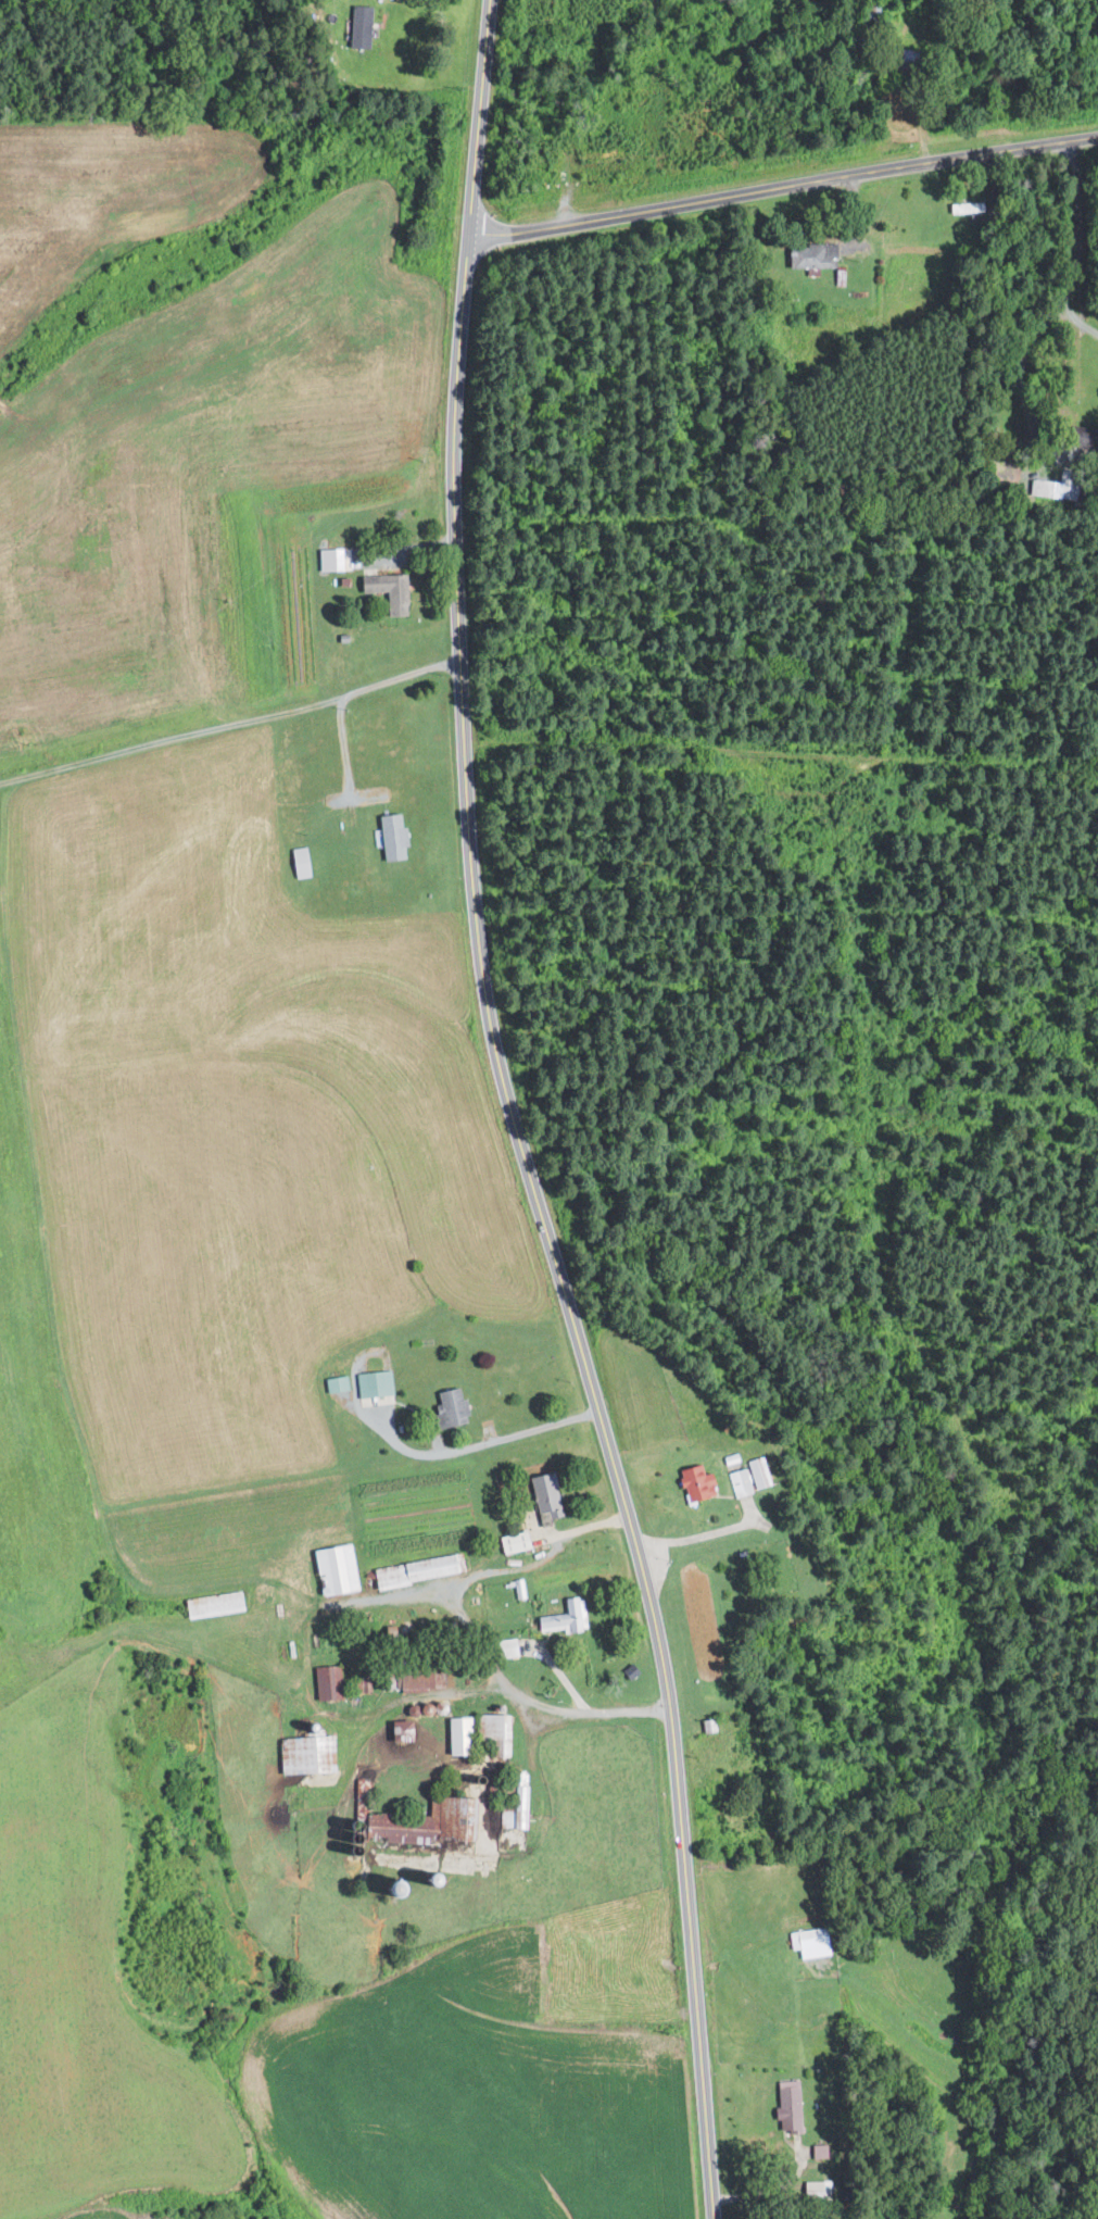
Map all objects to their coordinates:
building: (358, 26)
road: (856, 170)
building: (963, 206)
road: (1078, 223)
road: (542, 228)
building: (810, 255)
road: (1081, 323)
road: (1024, 394)
building: (1040, 487)
road: (404, 549)
building: (386, 590)
road: (463, 717)
road: (230, 725)
road: (343, 745)
building: (390, 837)
building: (300, 862)
building: (335, 1382)
building: (373, 1382)
building: (447, 1407)
road: (527, 1430)
building: (759, 1471)
building: (692, 1482)
building: (740, 1482)
building: (542, 1496)
road: (695, 1537)
building: (513, 1541)
building: (332, 1568)
building: (413, 1570)
road: (510, 1570)
building: (212, 1604)
building: (563, 1617)
road: (478, 1634)
building: (504, 1647)
building: (325, 1681)
building: (414, 1681)
road: (561, 1707)
building: (395, 1729)
building: (491, 1732)
building: (455, 1735)
building: (303, 1754)
building: (516, 1803)
road: (679, 1815)
building: (407, 1826)
building: (808, 1942)
building: (786, 2109)
building: (819, 2151)
building: (813, 2189)
road: (765, 2191)

